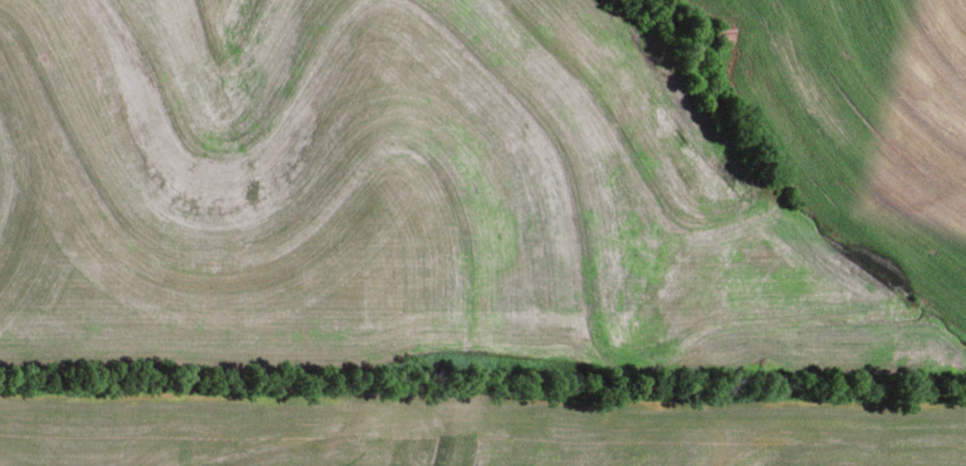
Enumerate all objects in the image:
building: (722, 34)

